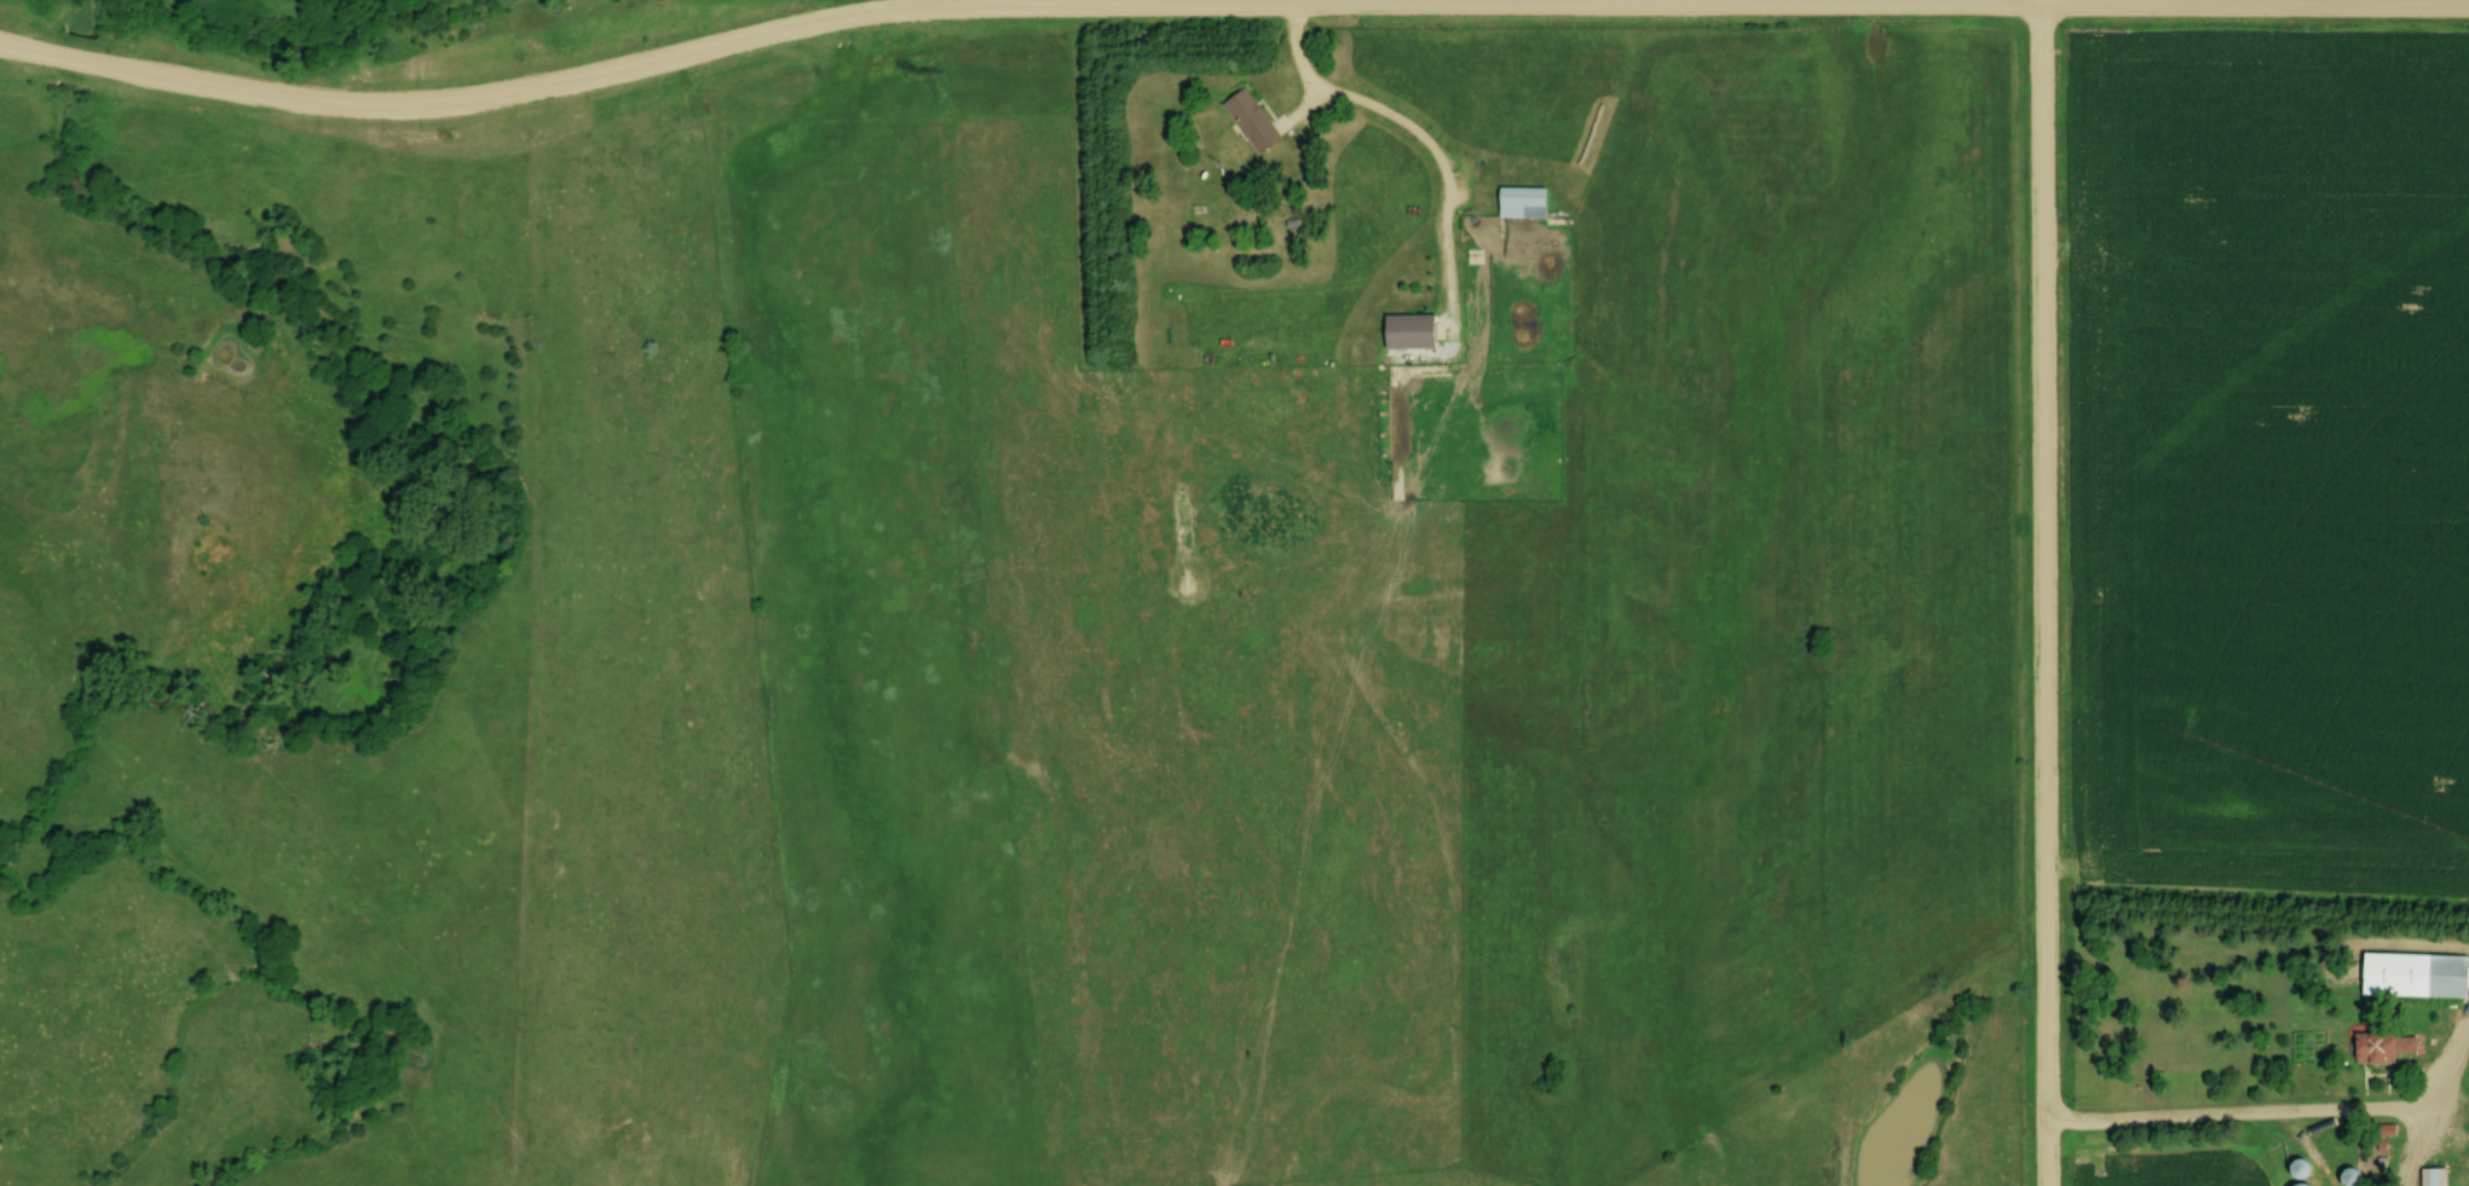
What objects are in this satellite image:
road: (1066, 1)
road: (2256, 1)
road: (704, 47)
building: (1248, 121)
road: (1426, 138)
building: (1519, 203)
building: (1406, 332)
road: (2043, 592)
building: (2413, 976)
building: (2372, 1048)
road: (2246, 1110)
building: (2298, 1168)
building: (2431, 1176)
building: (2349, 1178)

